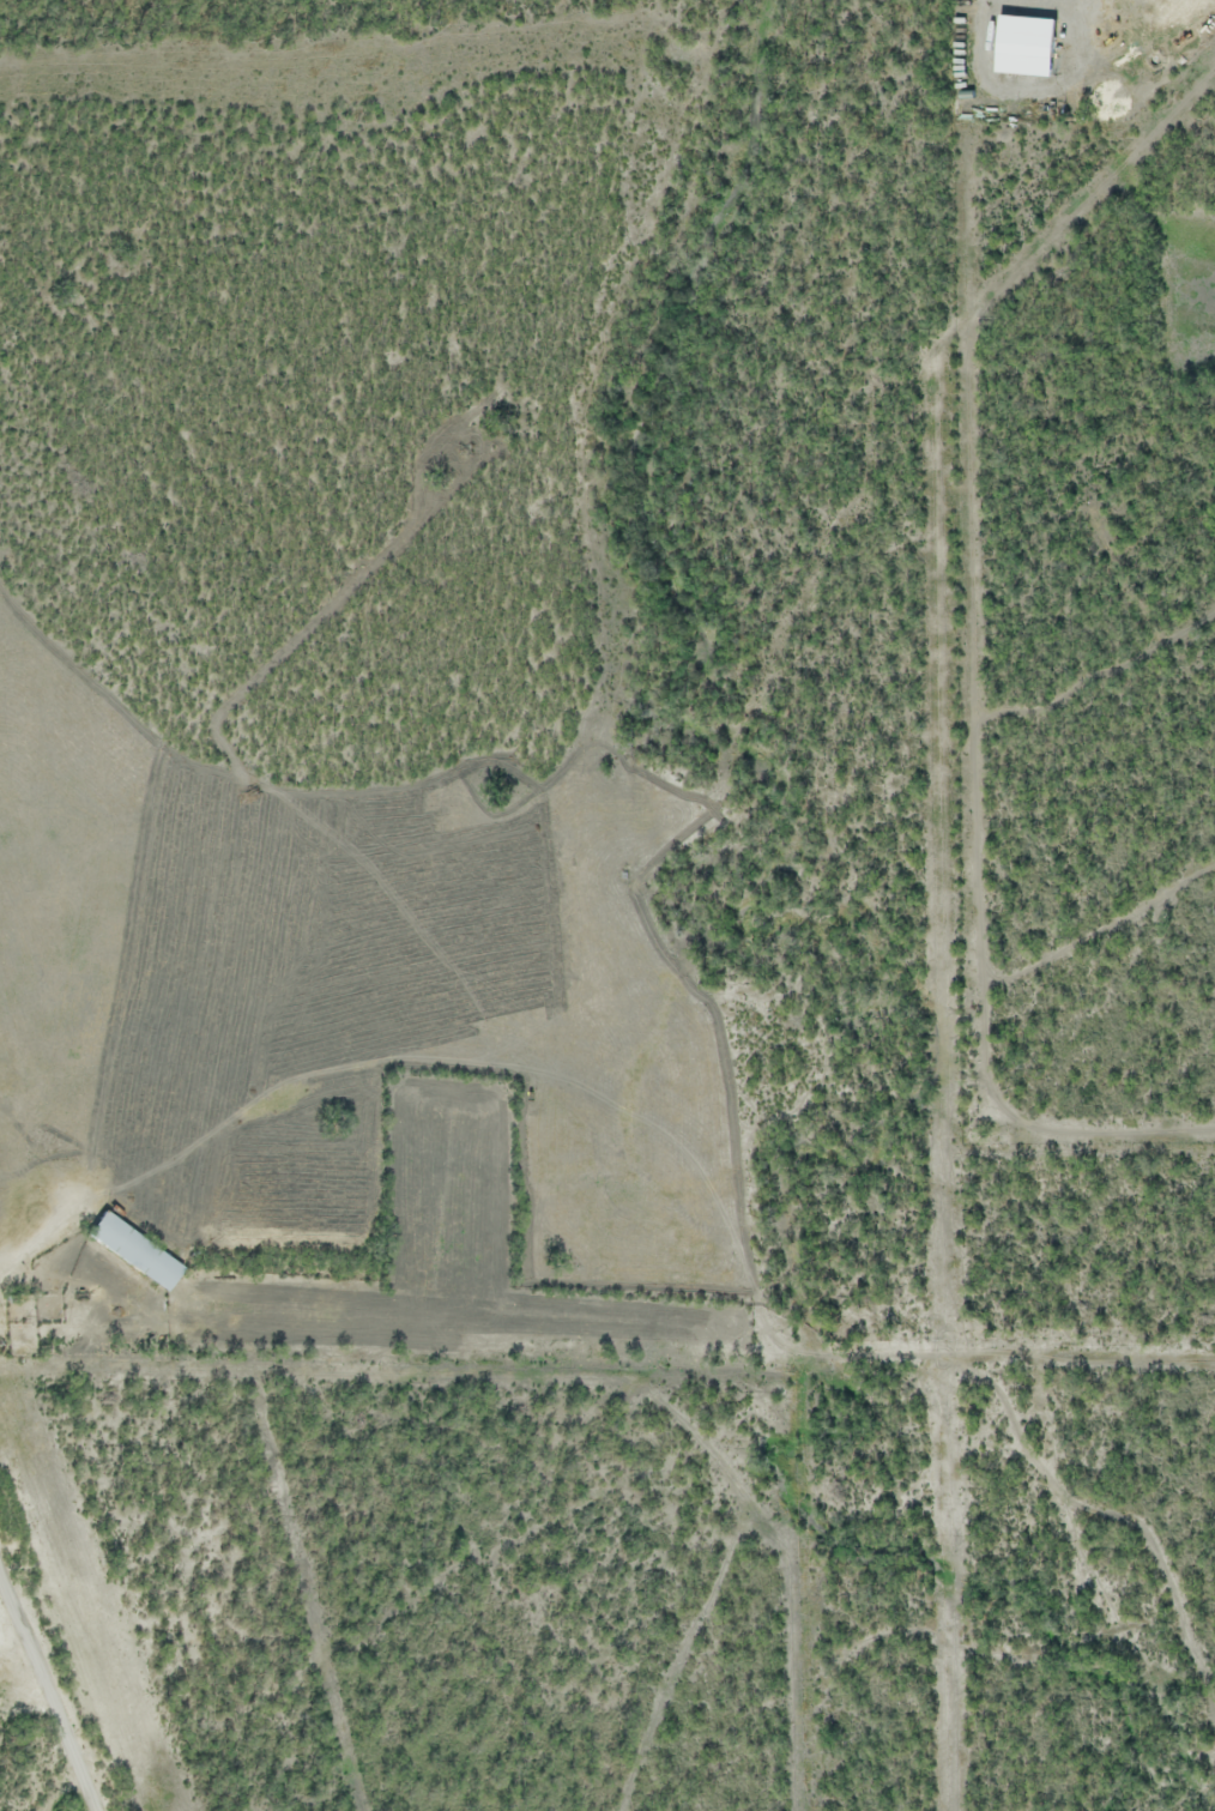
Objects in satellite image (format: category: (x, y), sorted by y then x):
building: (1023, 43)
building: (132, 1251)
road: (49, 1692)

